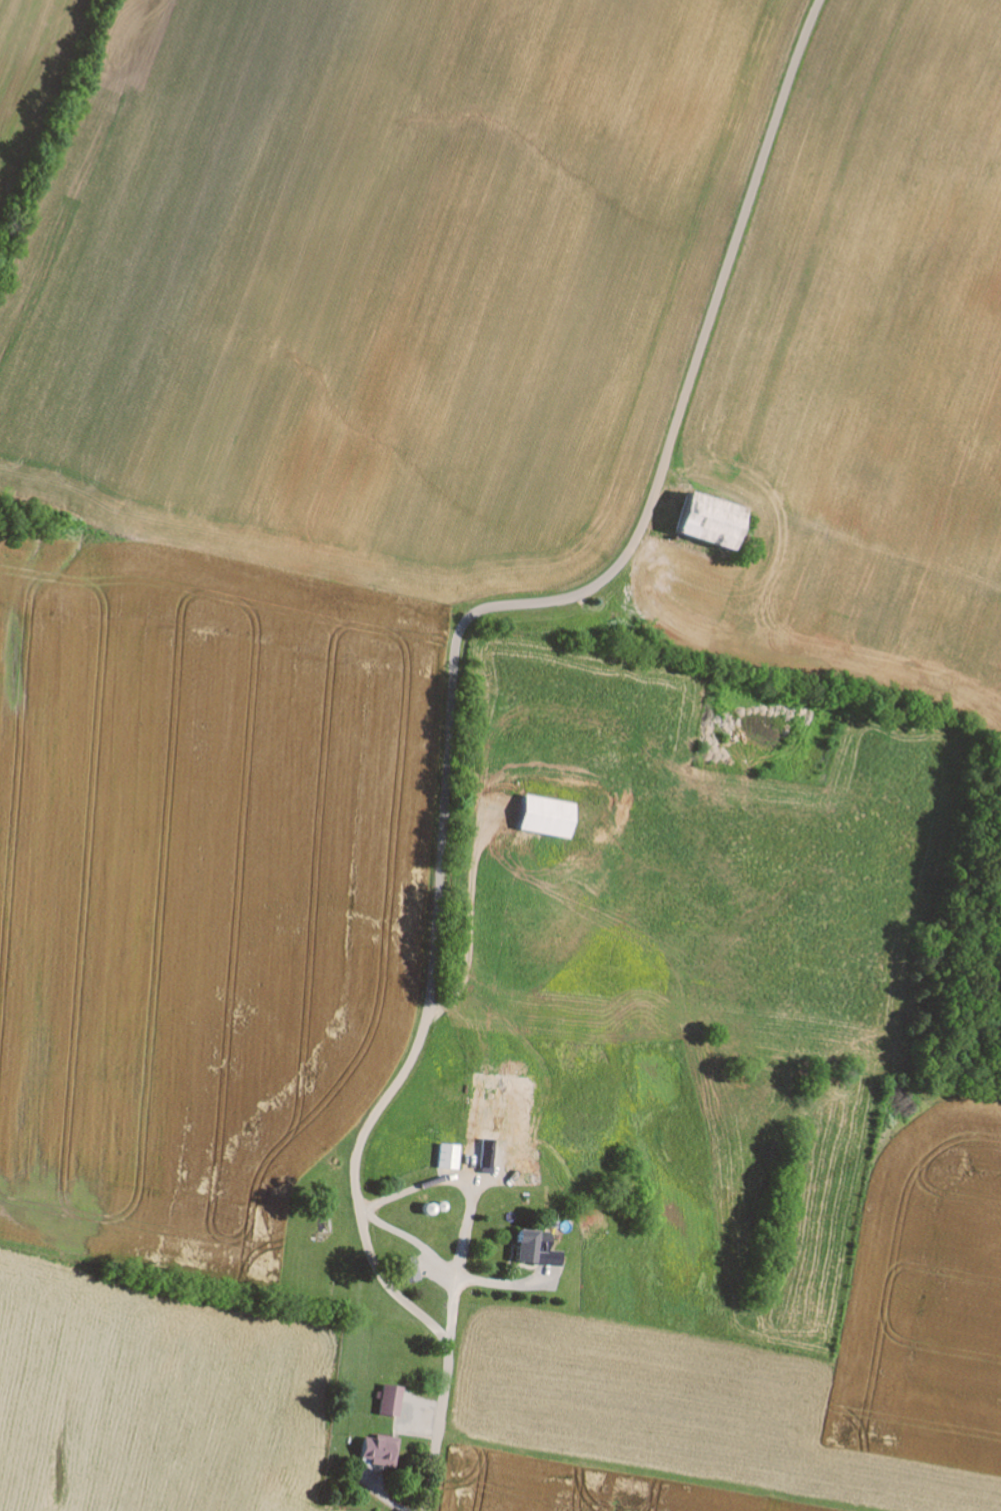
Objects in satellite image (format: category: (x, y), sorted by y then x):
building: (706, 519)
road: (452, 706)
building: (545, 815)
road: (470, 913)
building: (446, 1156)
road: (467, 1207)
building: (521, 1246)
building: (406, 1269)
building: (388, 1400)
building: (377, 1449)

